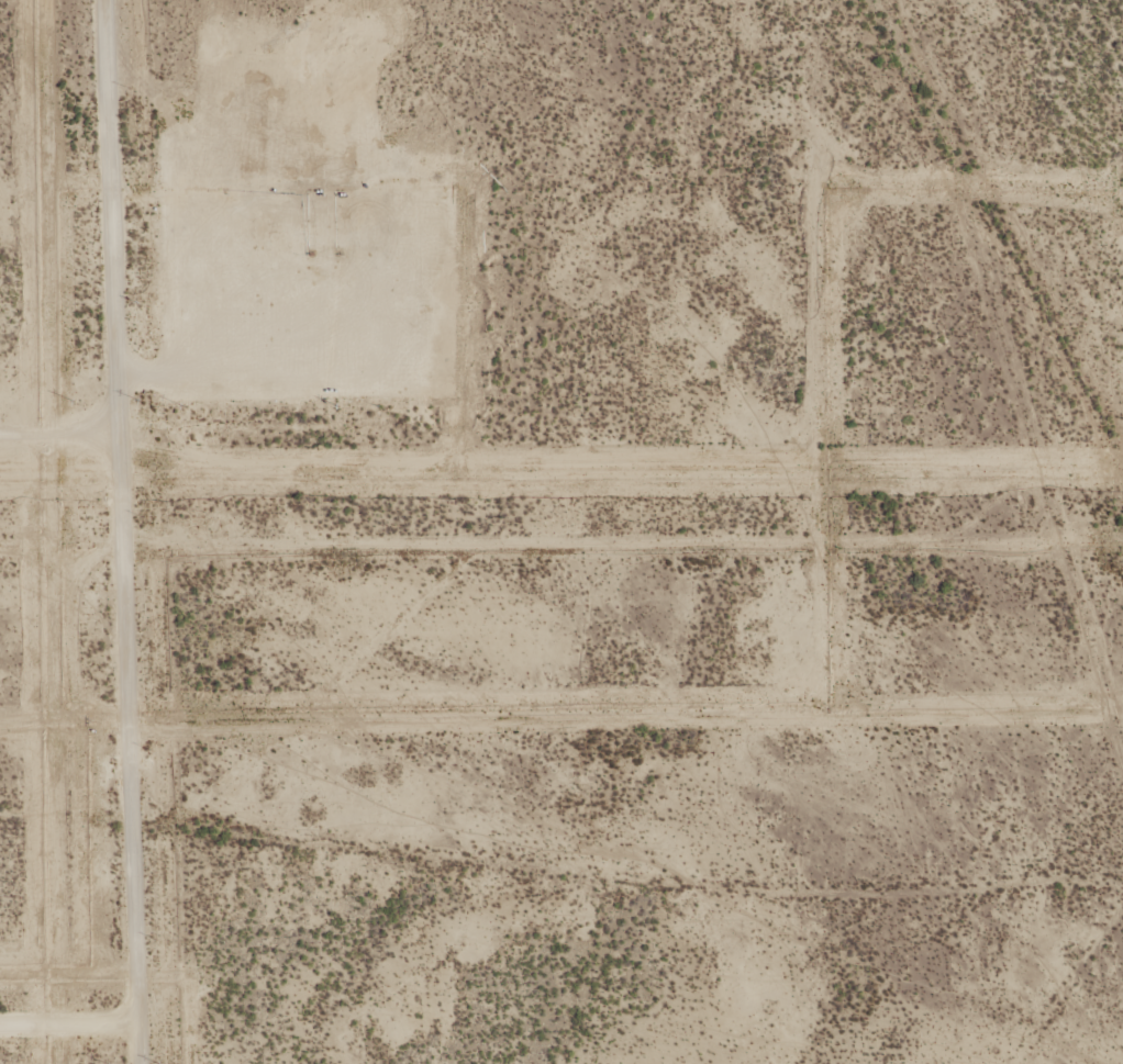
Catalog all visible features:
road: (561, 851)
road: (1060, 966)

